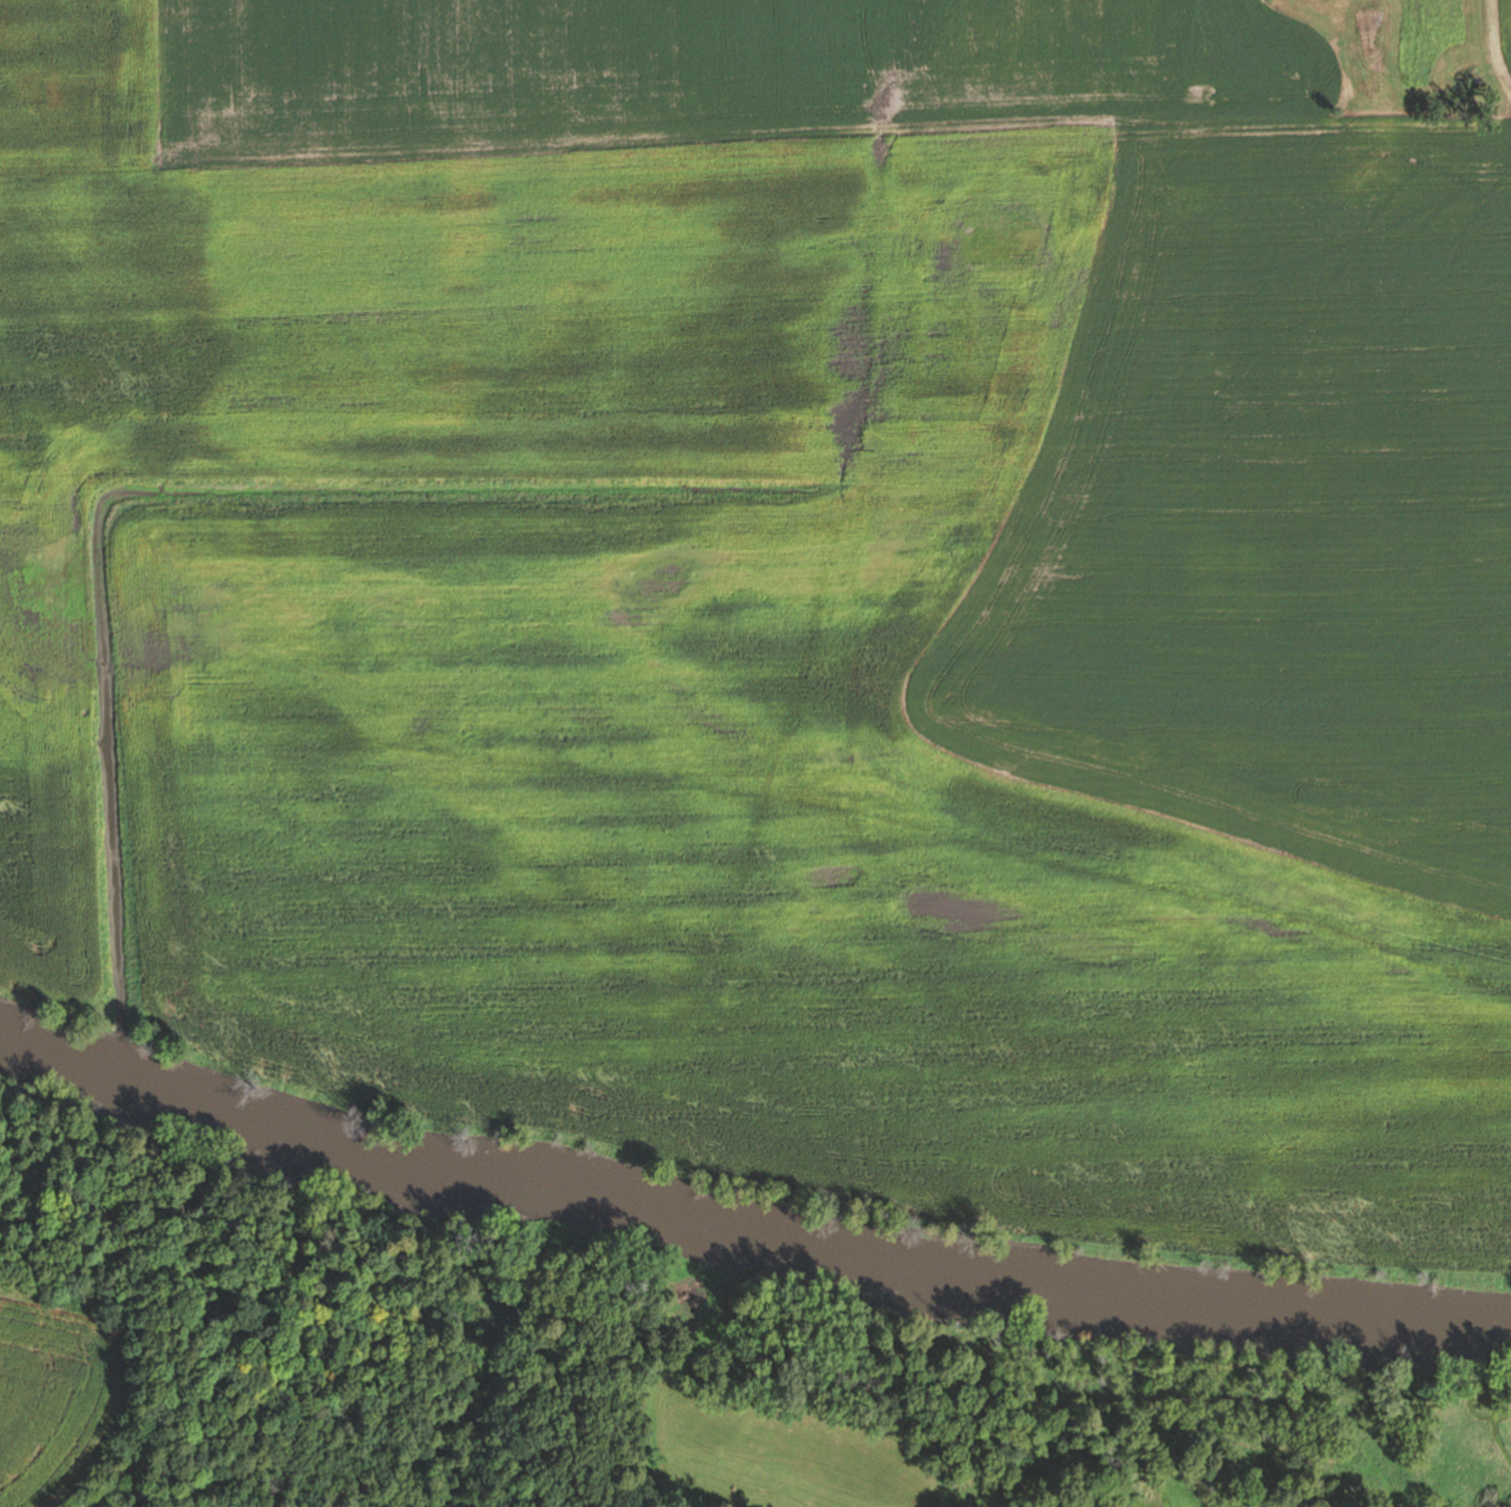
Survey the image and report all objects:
road: (1509, 23)
river: (744, 1237)
road: (499, 1402)

